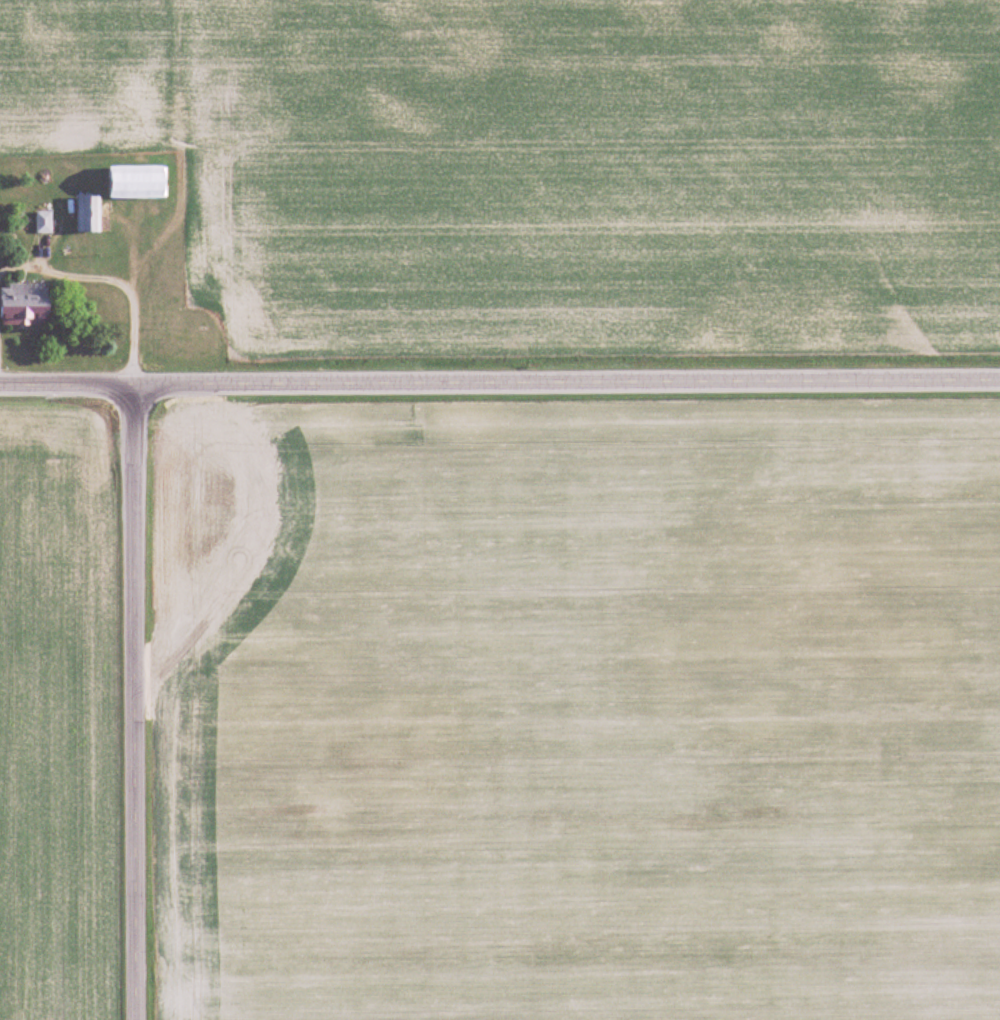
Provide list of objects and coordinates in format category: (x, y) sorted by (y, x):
building: (137, 182)
building: (88, 214)
building: (43, 223)
road: (110, 281)
building: (24, 304)
road: (499, 382)
road: (133, 702)

